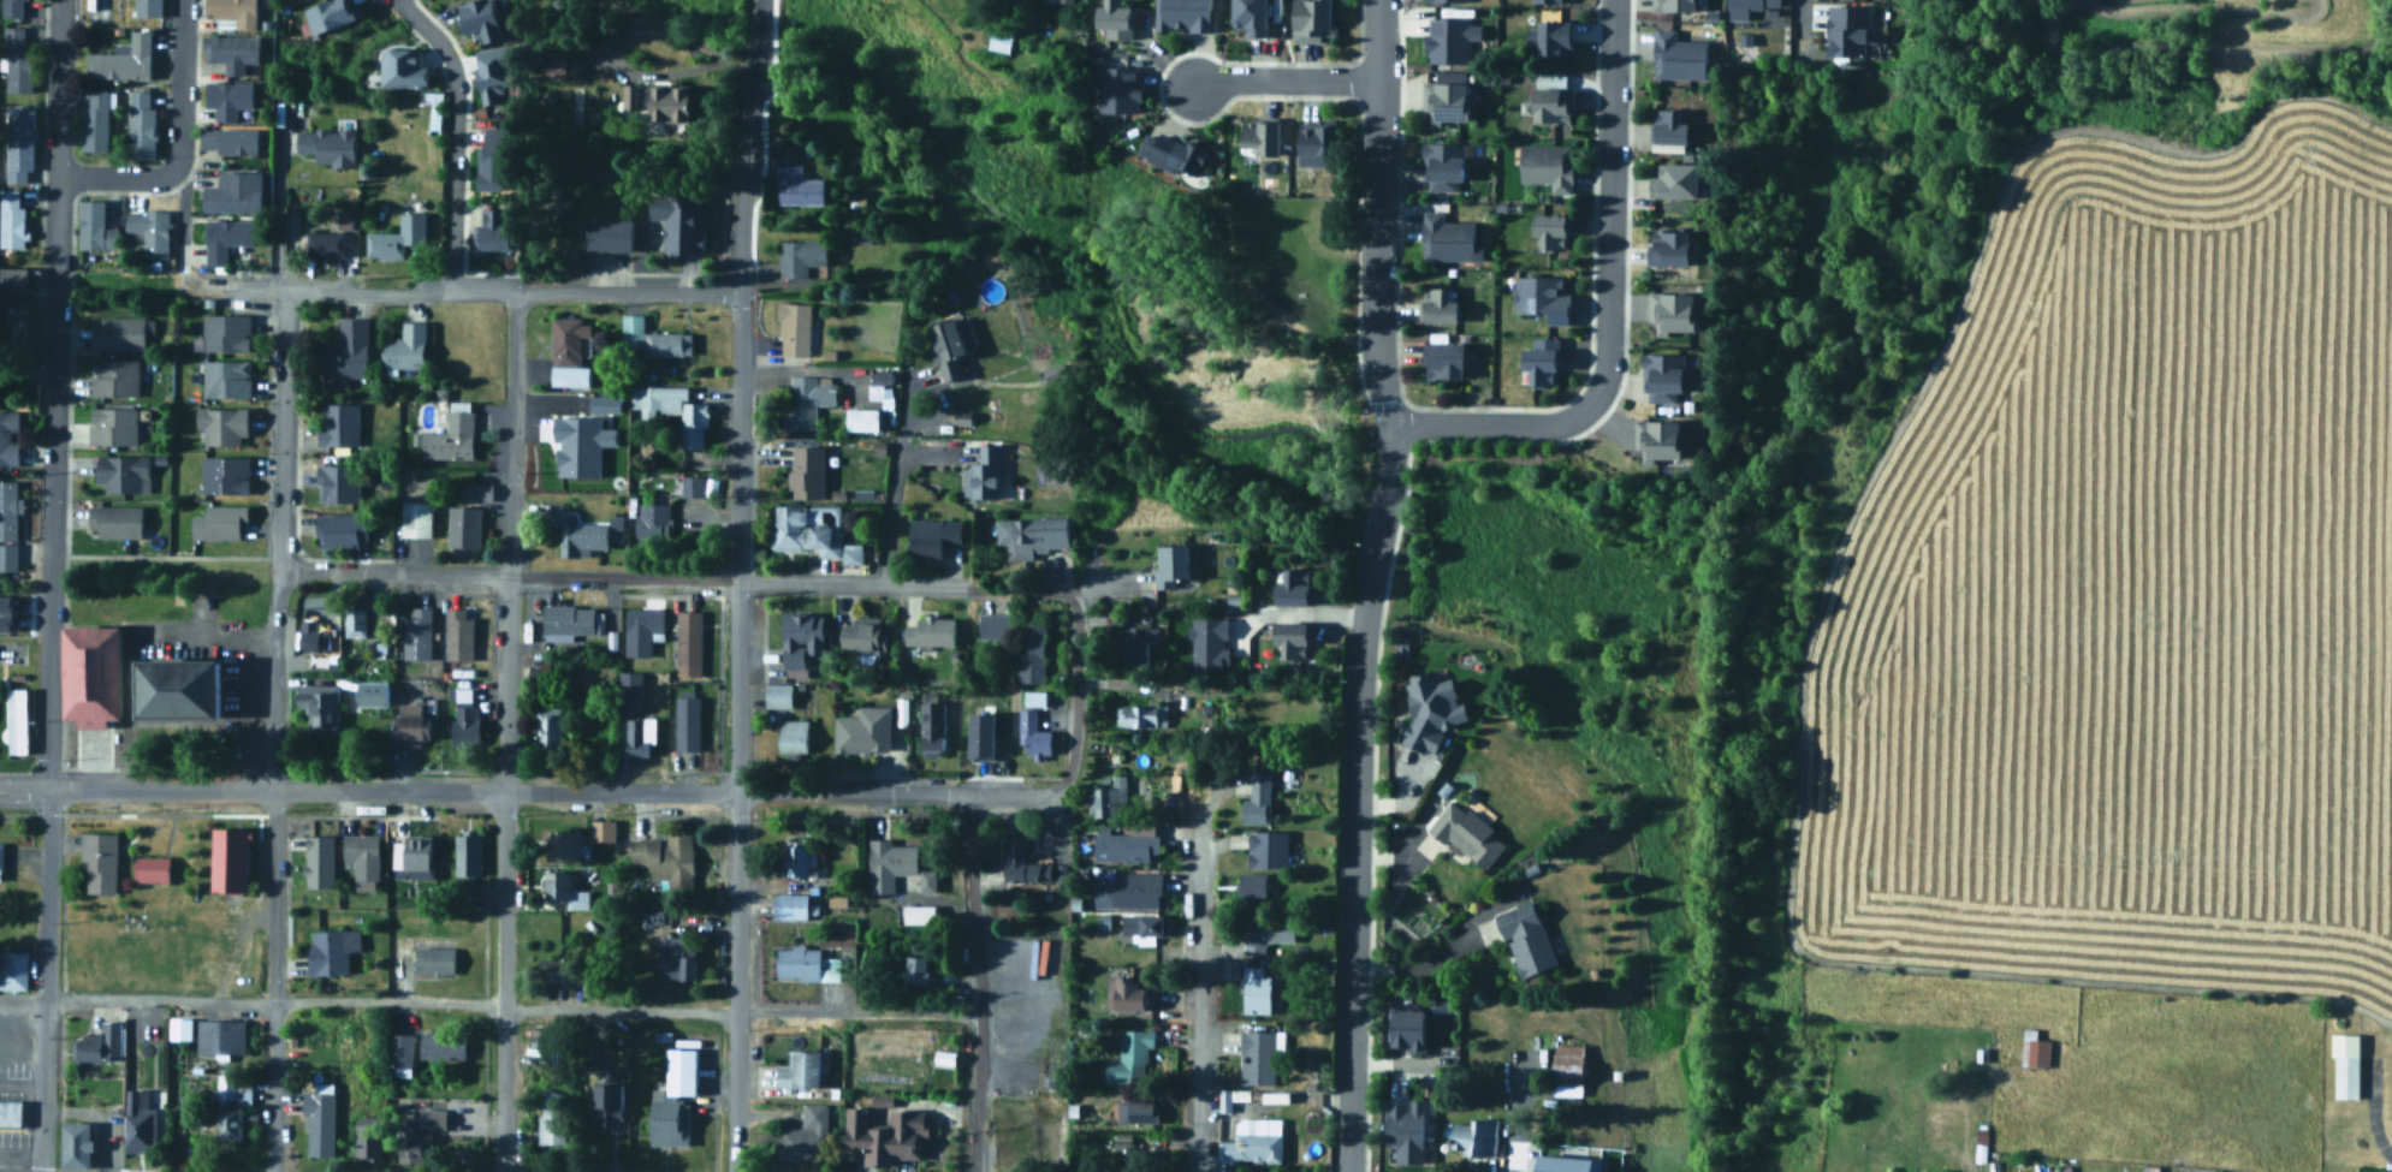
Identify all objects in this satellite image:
building: (1066, 1)
building: (1675, 6)
building: (1740, 6)
building: (13, 8)
building: (148, 8)
building: (324, 11)
building: (235, 12)
building: (1185, 16)
building: (1252, 18)
building: (1117, 19)
building: (1313, 20)
building: (482, 22)
building: (1851, 31)
building: (1547, 34)
building: (1447, 36)
road: (433, 37)
building: (1001, 40)
road: (1377, 40)
building: (231, 53)
building: (1680, 56)
building: (123, 60)
road: (617, 60)
building: (16, 63)
building: (548, 64)
building: (398, 65)
building: (485, 72)
road: (1283, 79)
road: (748, 81)
building: (1116, 85)
building: (630, 97)
building: (1447, 97)
building: (228, 100)
building: (671, 103)
building: (1555, 106)
building: (433, 107)
building: (95, 120)
road: (55, 121)
building: (141, 125)
building: (1672, 129)
building: (1263, 137)
building: (228, 141)
building: (18, 143)
road: (178, 143)
building: (1319, 143)
building: (327, 147)
building: (1170, 151)
building: (495, 160)
building: (1443, 165)
building: (1548, 166)
building: (1675, 180)
road: (451, 185)
building: (796, 186)
building: (233, 192)
road: (180, 207)
road: (274, 210)
building: (11, 219)
building: (679, 221)
road: (741, 226)
building: (95, 227)
building: (149, 230)
building: (1551, 231)
building: (611, 236)
building: (1447, 237)
building: (225, 238)
building: (397, 239)
building: (494, 239)
building: (326, 245)
building: (1670, 248)
road: (1375, 255)
building: (800, 256)
building: (13, 279)
road: (250, 285)
road: (593, 290)
road: (367, 292)
park: (1237, 295)
building: (1542, 298)
building: (1441, 305)
road: (1605, 308)
building: (1673, 313)
building: (14, 325)
building: (793, 329)
building: (118, 333)
building: (225, 333)
road: (1337, 337)
building: (652, 339)
building: (406, 347)
building: (949, 347)
building: (346, 353)
building: (568, 361)
building: (1543, 361)
road: (738, 362)
building: (1447, 362)
building: (113, 377)
building: (225, 379)
building: (1664, 379)
building: (879, 385)
building: (807, 400)
building: (604, 401)
building: (672, 411)
building: (863, 420)
building: (338, 424)
building: (113, 427)
building: (221, 427)
road: (281, 430)
building: (450, 436)
building: (8, 439)
building: (577, 441)
building: (1660, 441)
building: (806, 472)
building: (121, 474)
building: (224, 475)
building: (985, 475)
building: (337, 483)
building: (690, 487)
road: (891, 495)
road: (737, 506)
building: (8, 511)
road: (48, 517)
building: (115, 519)
building: (416, 519)
building: (652, 519)
building: (219, 523)
building: (463, 526)
building: (789, 526)
building: (345, 531)
building: (575, 534)
building: (1033, 535)
building: (934, 537)
road: (508, 540)
building: (825, 541)
building: (851, 554)
building: (7, 558)
building: (1173, 566)
road: (337, 570)
road: (732, 579)
building: (1295, 588)
building: (4, 611)
building: (571, 620)
building: (354, 621)
building: (996, 626)
building: (641, 630)
road: (737, 630)
building: (930, 632)
building: (416, 633)
building: (459, 635)
building: (863, 636)
road: (125, 638)
building: (313, 638)
building: (802, 638)
building: (1293, 639)
building: (1206, 641)
building: (688, 644)
building: (1139, 644)
building: (1031, 653)
building: (85, 673)
building: (165, 685)
road: (1074, 694)
building: (628, 695)
building: (373, 696)
building: (777, 696)
building: (1035, 700)
building: (1428, 706)
building: (317, 708)
building: (1140, 716)
building: (464, 718)
building: (17, 722)
building: (411, 724)
building: (687, 724)
building: (548, 727)
building: (932, 731)
building: (863, 732)
building: (977, 733)
building: (793, 737)
building: (640, 738)
building: (1033, 738)
road: (23, 790)
road: (216, 791)
road: (560, 792)
road: (823, 792)
road: (983, 795)
road: (735, 797)
building: (1257, 797)
building: (1108, 798)
road: (1353, 799)
building: (600, 827)
building: (1468, 833)
building: (560, 843)
building: (1126, 846)
building: (1268, 847)
building: (465, 850)
building: (410, 855)
building: (360, 857)
building: (665, 857)
building: (796, 857)
building: (231, 858)
building: (315, 858)
building: (0, 859)
building: (99, 862)
building: (1023, 863)
building: (895, 865)
building: (152, 868)
road: (272, 870)
building: (1253, 885)
building: (562, 886)
building: (1128, 891)
building: (791, 905)
building: (919, 914)
building: (1142, 924)
building: (1264, 934)
building: (1527, 938)
building: (328, 947)
building: (432, 958)
building: (677, 959)
road: (1415, 960)
building: (799, 963)
road: (735, 964)
building: (921, 968)
building: (13, 970)
building: (556, 971)
road: (43, 980)
road: (503, 982)
road: (974, 982)
building: (1257, 988)
building: (1132, 993)
road: (22, 999)
road: (1197, 1000)
road: (509, 1007)
building: (177, 1025)
building: (1403, 1027)
building: (218, 1034)
building: (97, 1040)
building: (439, 1043)
building: (13, 1046)
road: (1002, 1047)
building: (2031, 1047)
building: (398, 1052)
building: (1129, 1057)
building: (1258, 1057)
building: (2343, 1063)
building: (1568, 1065)
building: (796, 1067)
building: (676, 1069)
road: (20, 1083)
road: (734, 1091)
building: (601, 1102)
building: (228, 1103)
building: (1138, 1111)
building: (11, 1112)
building: (548, 1114)
building: (664, 1117)
building: (316, 1118)
building: (136, 1119)
building: (1402, 1128)
building: (415, 1130)
building: (805, 1134)
building: (880, 1134)
building: (1033, 1135)
building: (1474, 1136)
building: (1252, 1141)
building: (71, 1142)
building: (366, 1143)
building: (1561, 1162)
building: (1934, 1170)
building: (2145, 1171)
building: (2234, 1171)

